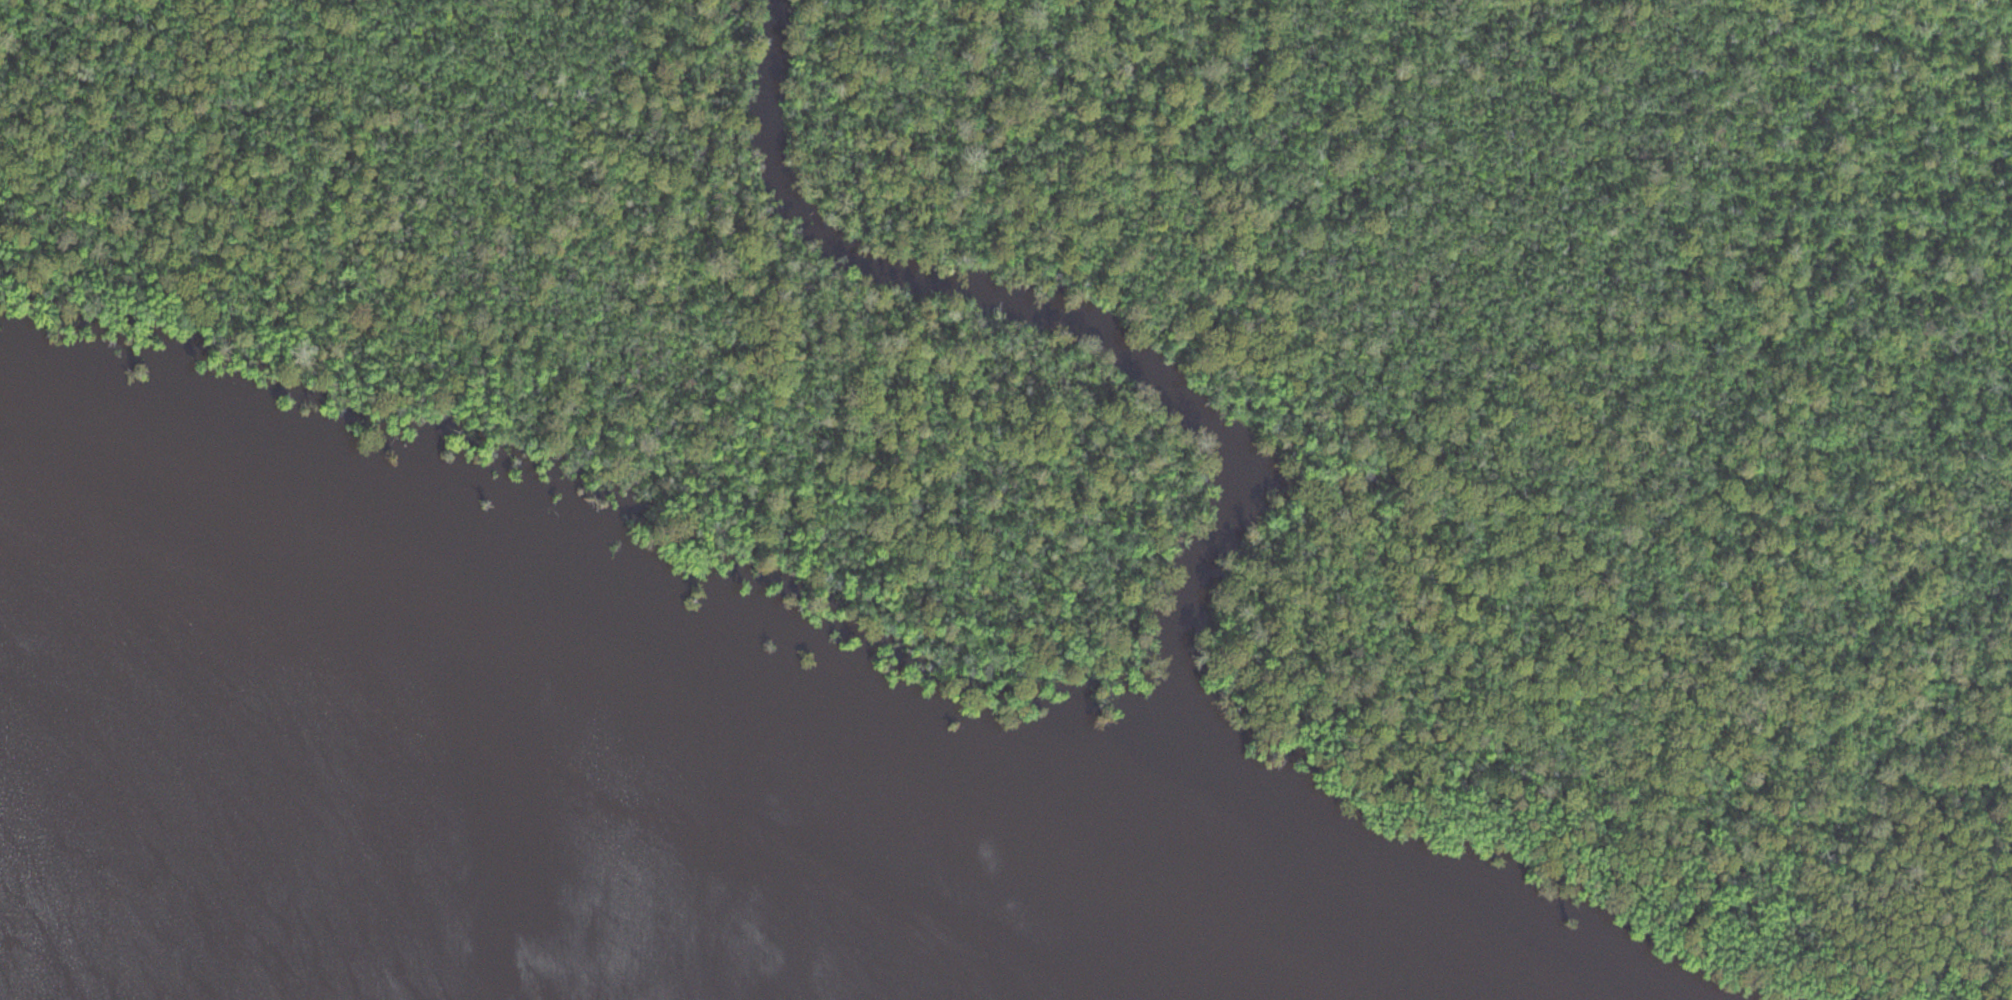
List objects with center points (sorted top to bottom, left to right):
park: (635, 295)
river: (304, 872)

